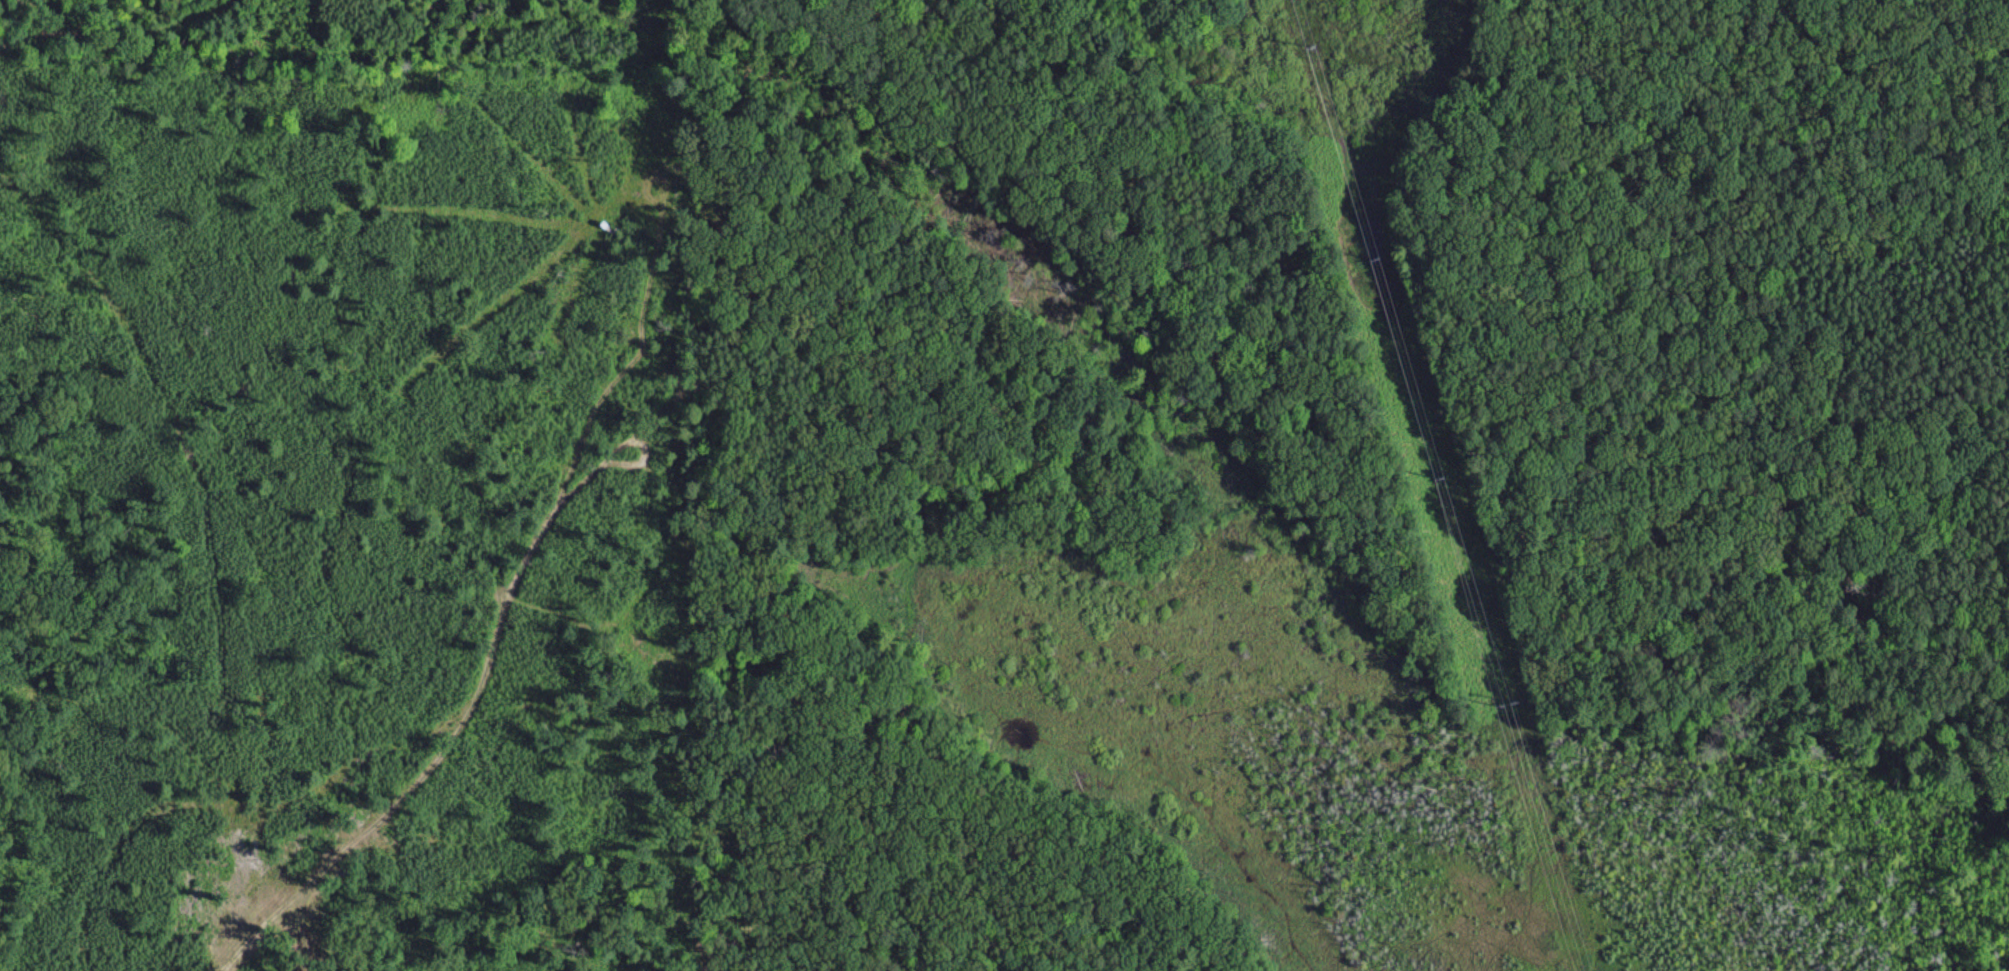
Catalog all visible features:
road: (118, 29)
road: (592, 465)
road: (770, 943)

